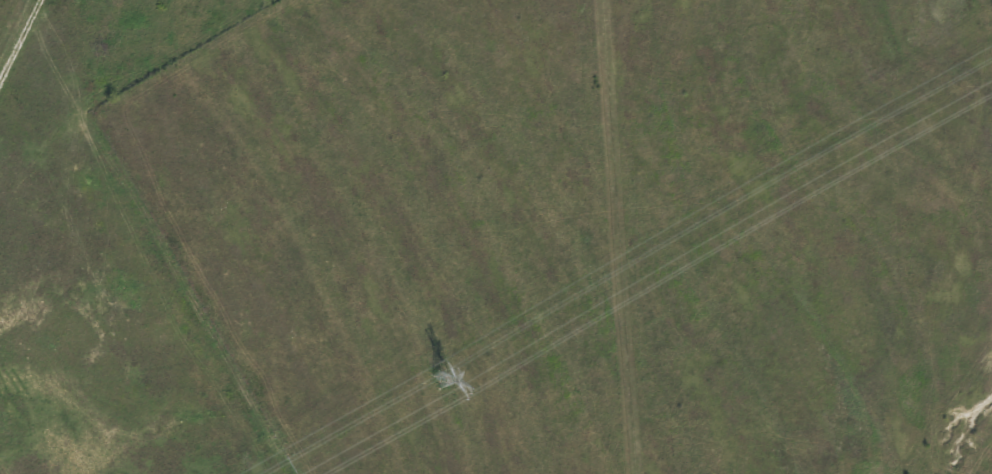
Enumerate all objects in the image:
power tower: (439, 381)

